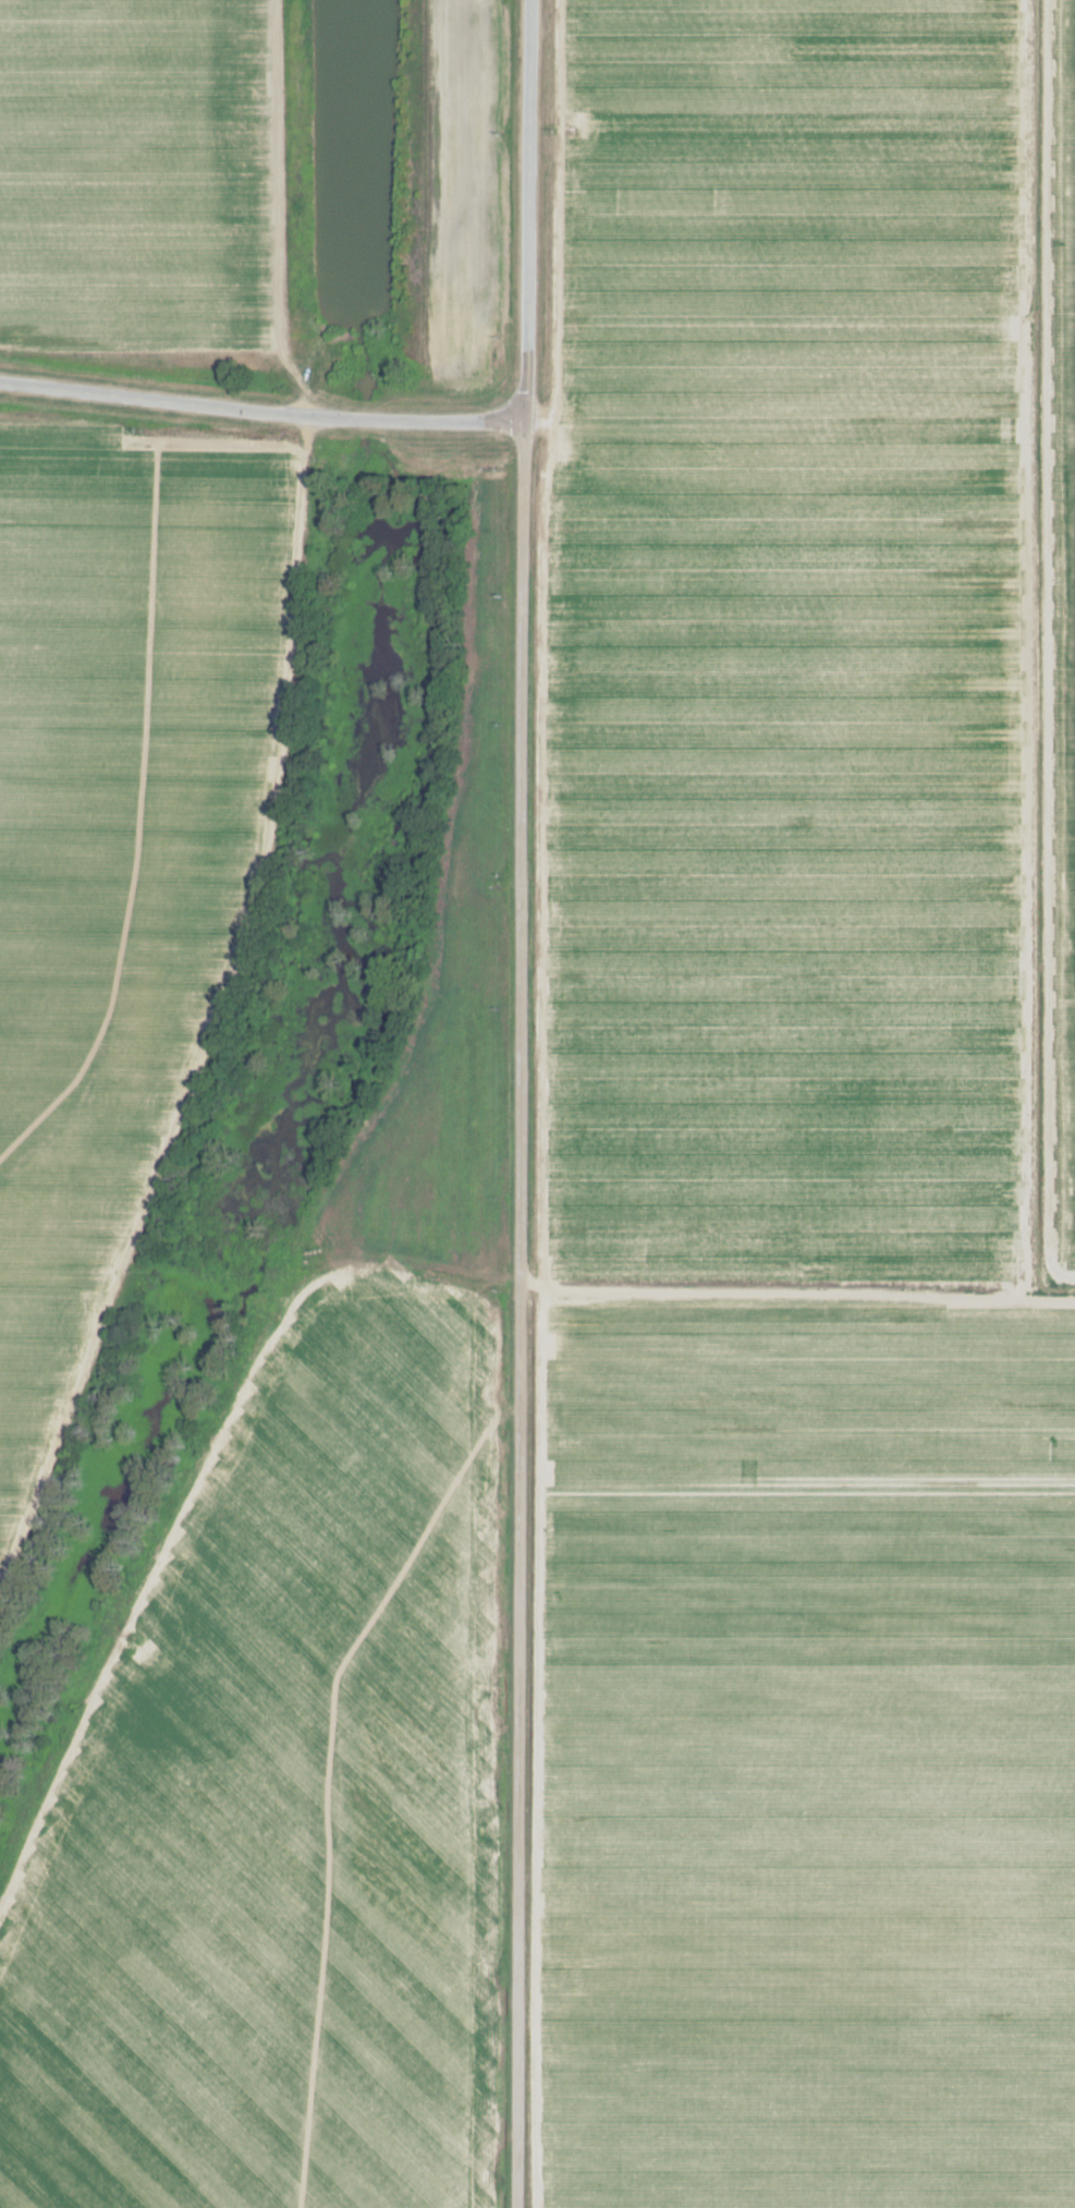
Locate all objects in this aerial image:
road: (259, 409)
road: (1058, 426)
road: (770, 494)
road: (1040, 647)
road: (516, 1103)
road: (795, 1300)
building: (34, 2090)
building: (80, 2124)

